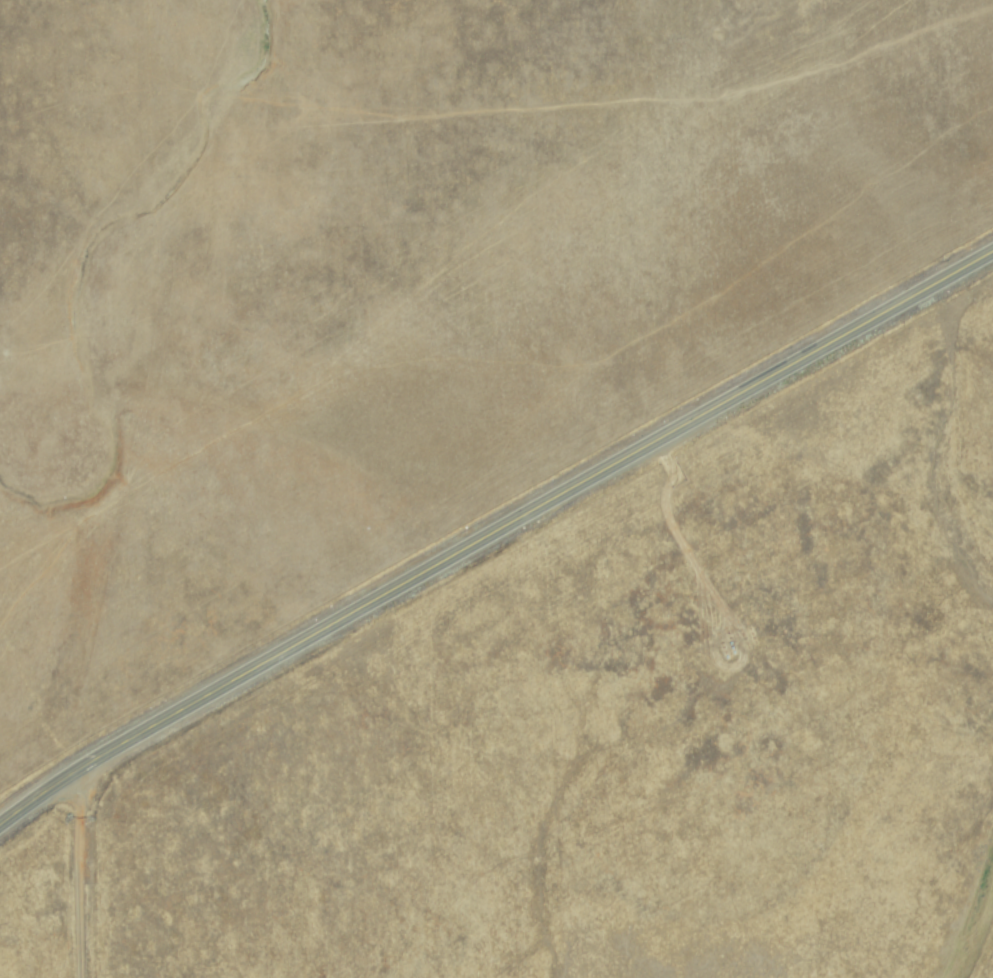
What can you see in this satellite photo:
road: (493, 534)
road: (79, 874)

